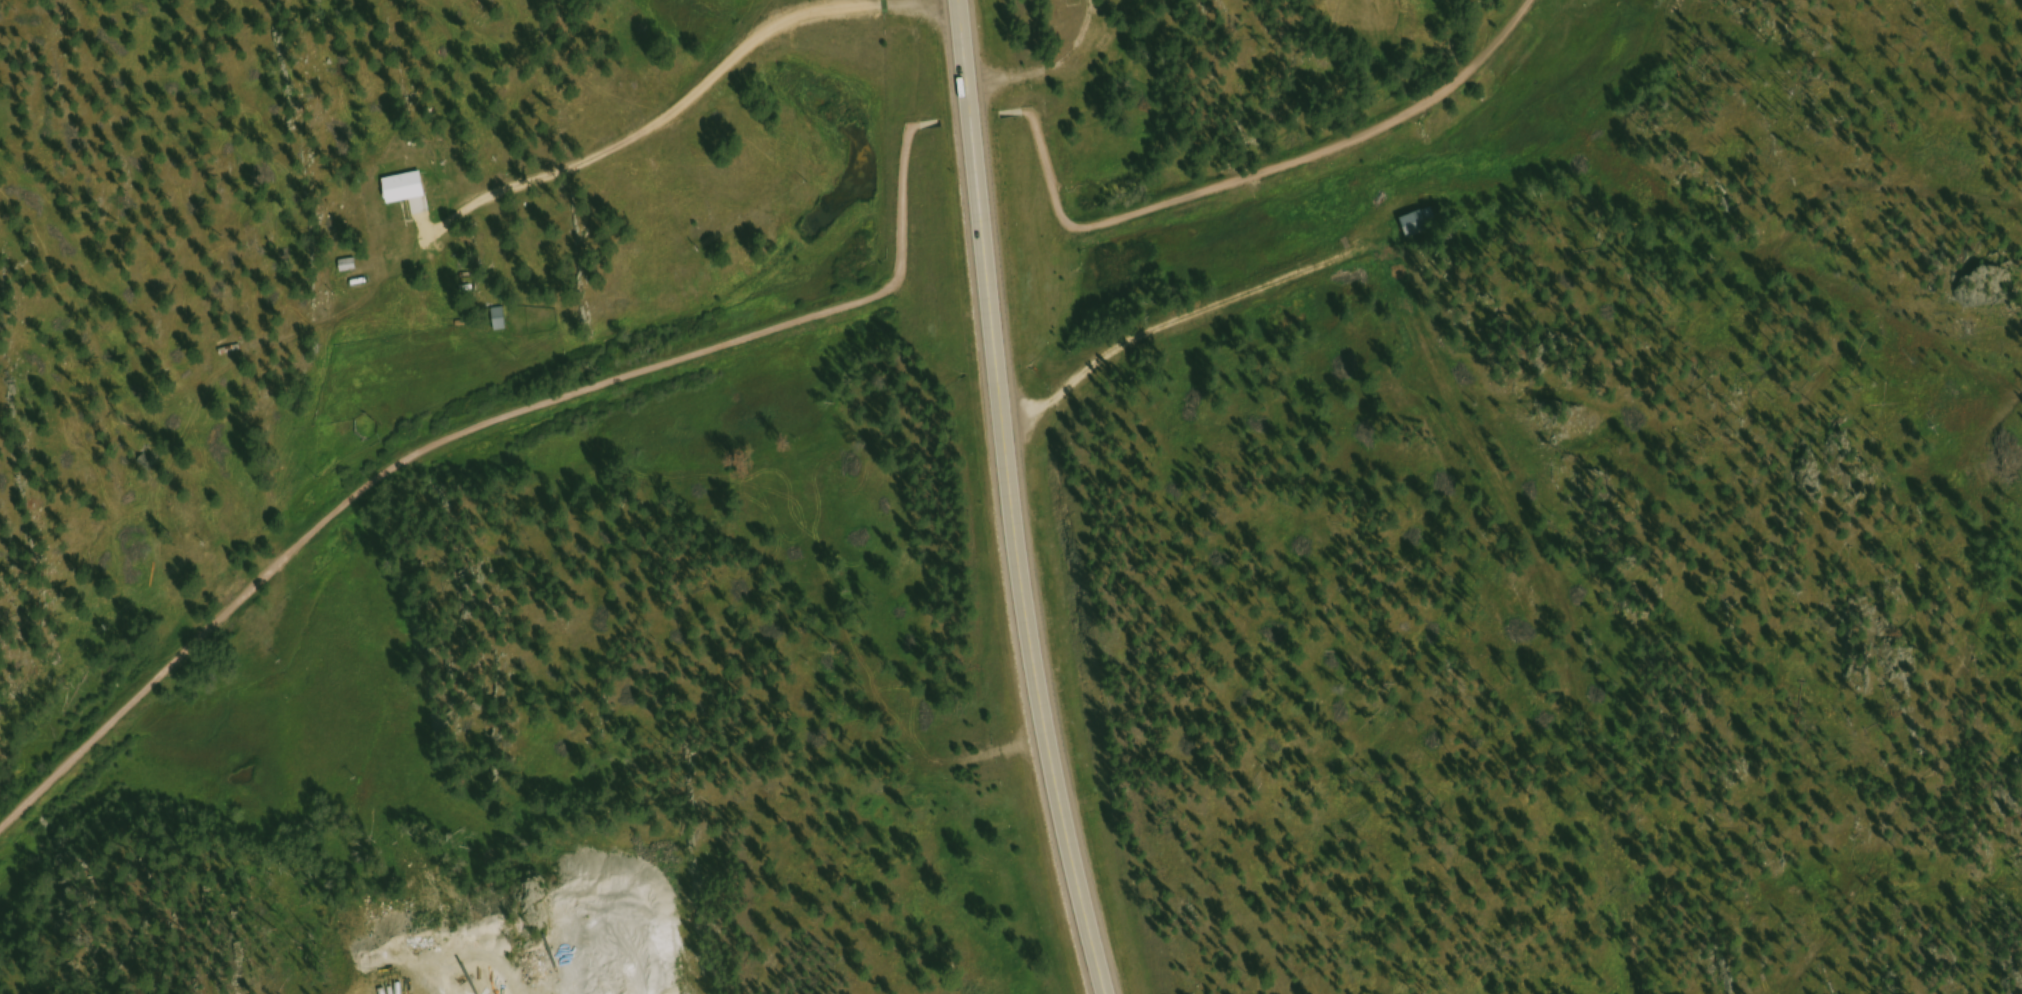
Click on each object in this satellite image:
building: (1145, 0)
road: (1692, 15)
road: (1053, 70)
road: (1700, 73)
road: (697, 84)
road: (1863, 169)
road: (1261, 176)
building: (406, 191)
road: (905, 193)
building: (1422, 225)
building: (350, 268)
building: (501, 322)
road: (1174, 323)
road: (401, 473)
road: (1012, 500)
road: (1536, 630)

